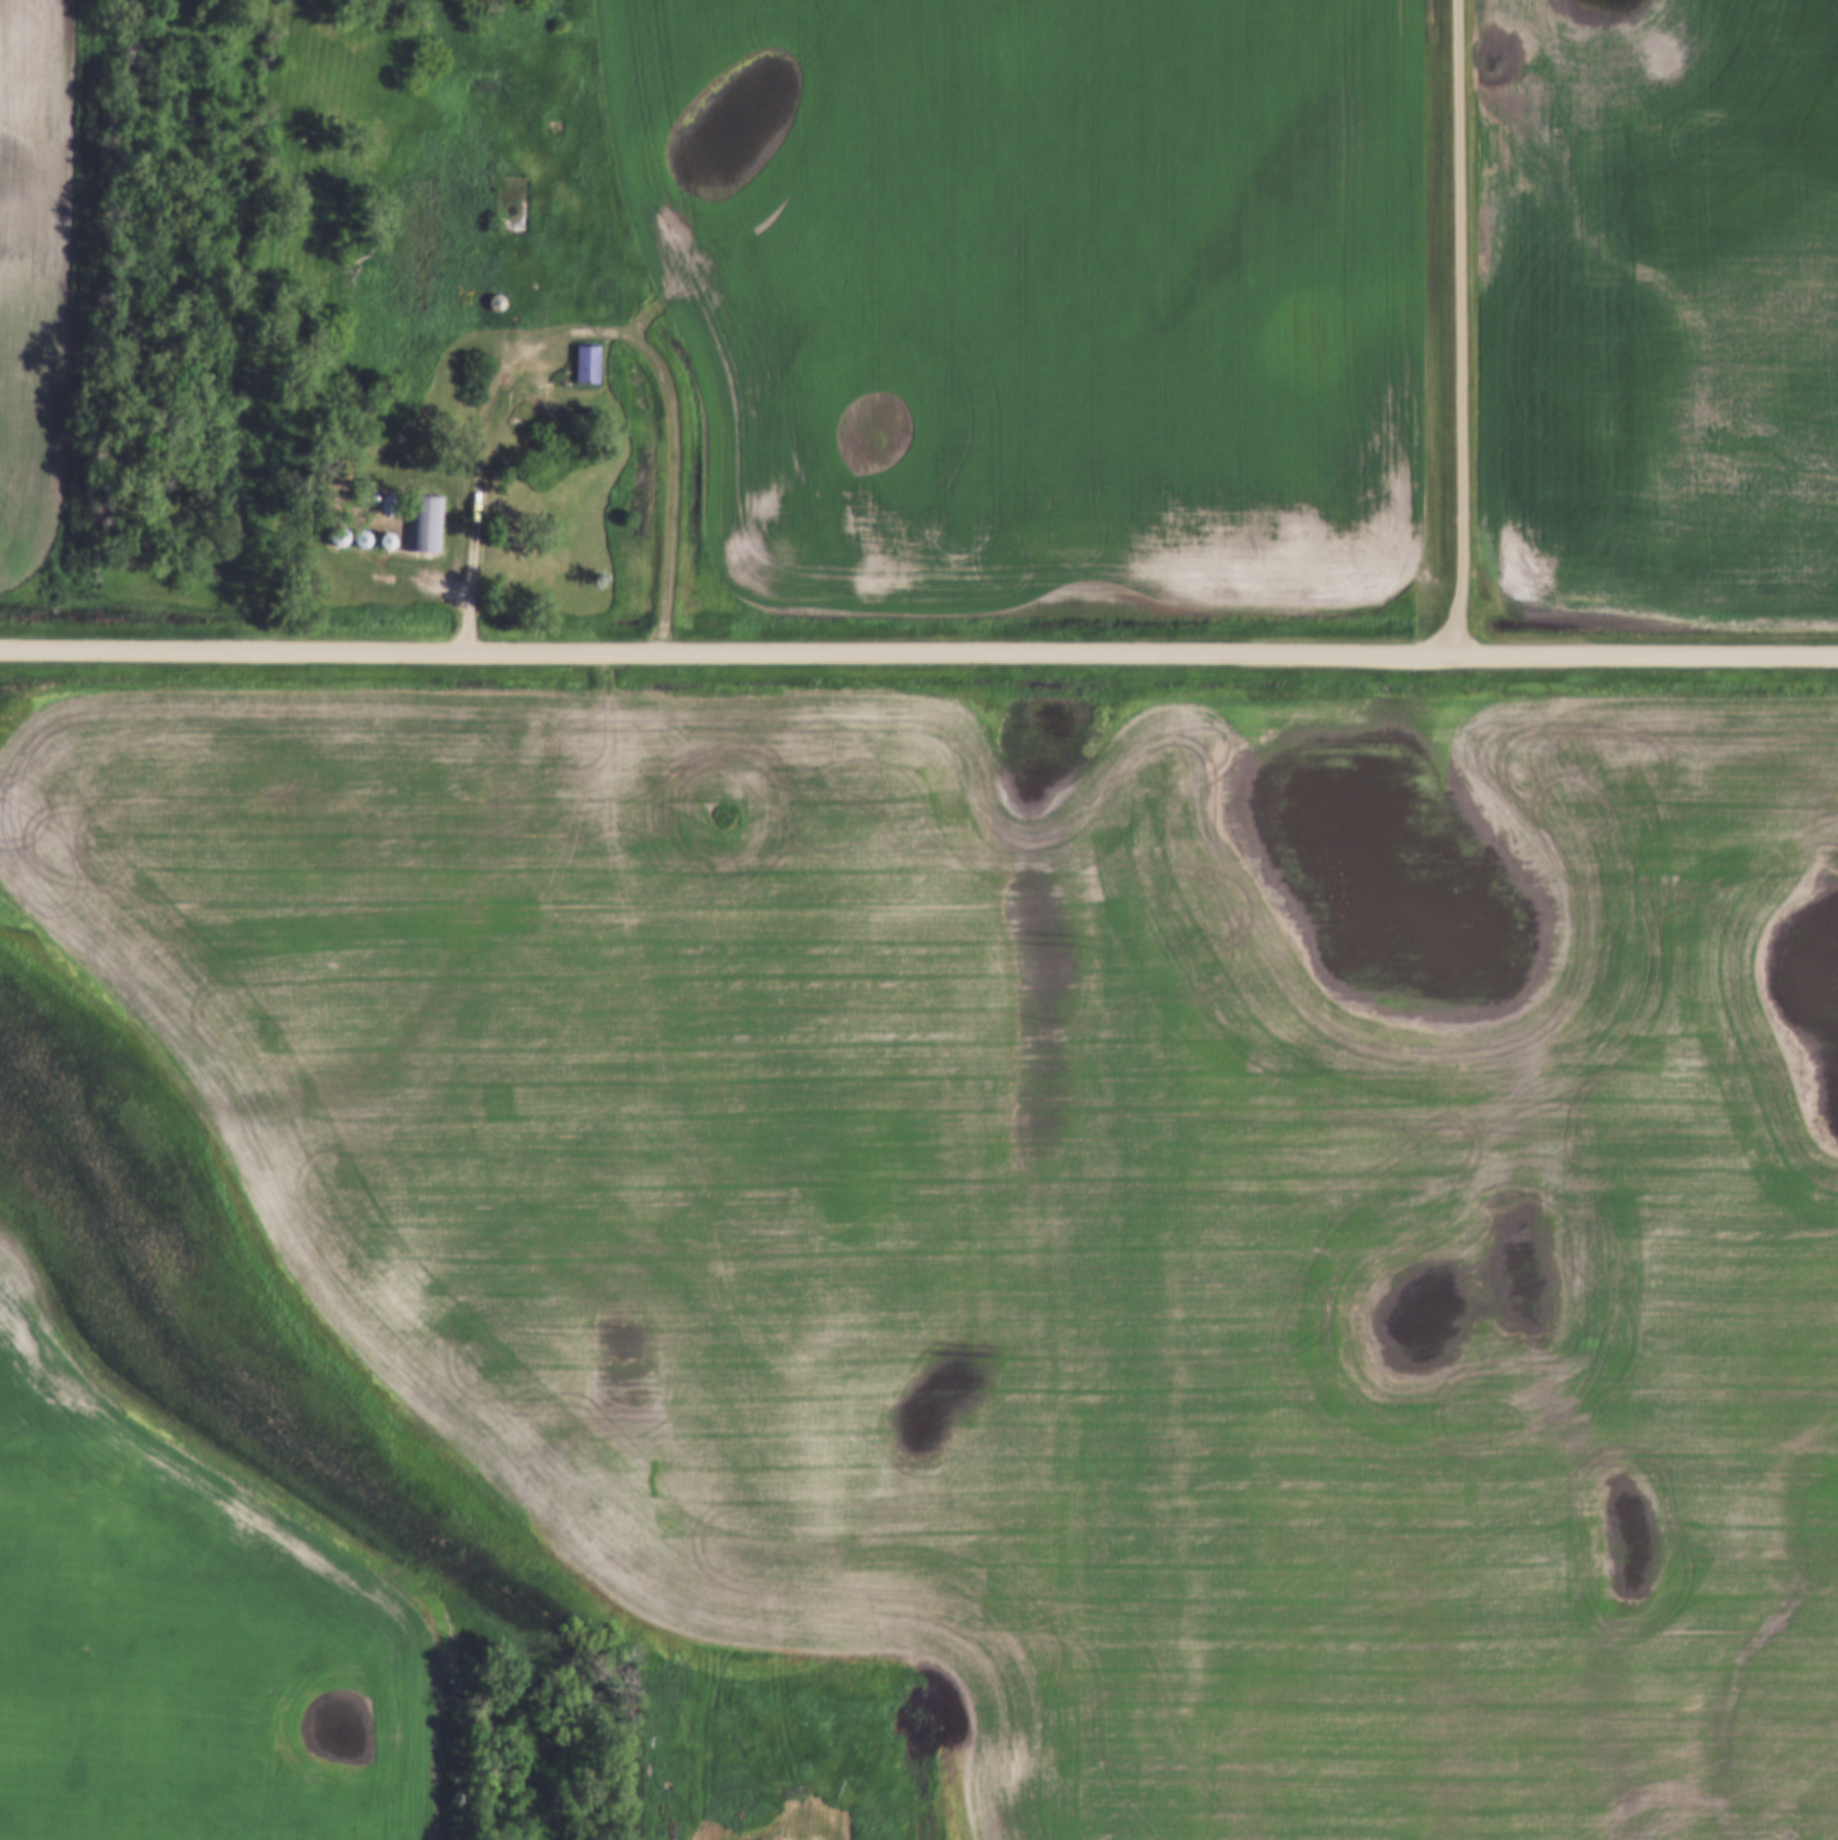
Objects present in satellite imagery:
building: (495, 303)
road: (1458, 328)
road: (580, 332)
building: (585, 366)
building: (424, 526)
road: (918, 651)
road: (964, 1768)

